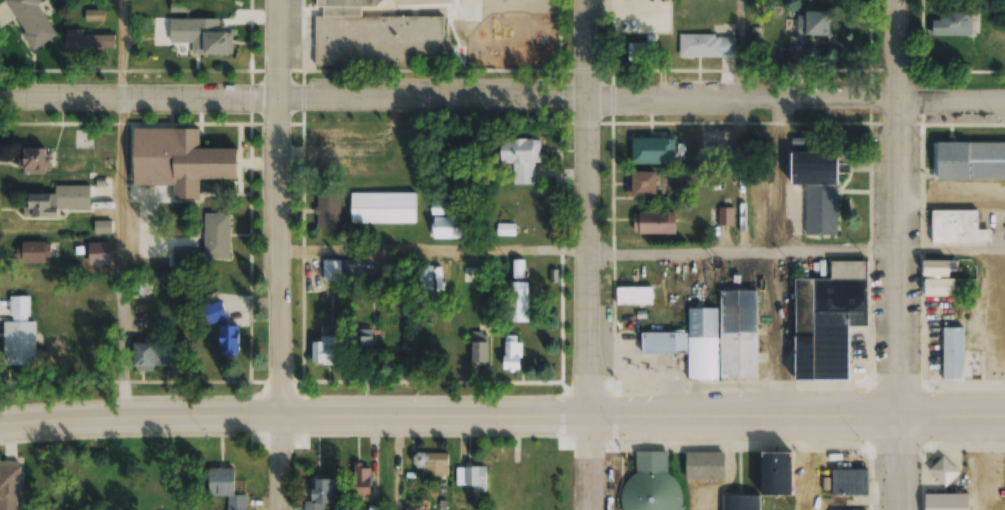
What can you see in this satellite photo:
building: (94, 16)
building: (33, 22)
building: (813, 23)
building: (953, 23)
building: (363, 33)
building: (88, 41)
building: (217, 44)
building: (707, 46)
building: (643, 49)
building: (794, 55)
road: (950, 99)
road: (447, 105)
building: (653, 151)
building: (520, 160)
building: (179, 161)
building: (969, 161)
building: (34, 162)
building: (641, 184)
building: (57, 202)
road: (896, 206)
building: (383, 208)
road: (598, 208)
building: (819, 208)
building: (442, 209)
road: (286, 210)
building: (328, 211)
building: (654, 223)
building: (447, 228)
building: (957, 228)
building: (216, 236)
building: (34, 253)
building: (185, 258)
building: (336, 269)
building: (517, 269)
building: (469, 275)
building: (424, 279)
building: (941, 280)
building: (141, 286)
building: (634, 296)
building: (518, 302)
building: (215, 312)
building: (829, 320)
building: (715, 339)
building: (227, 341)
building: (361, 347)
building: (20, 350)
building: (480, 350)
building: (324, 352)
building: (953, 353)
building: (512, 354)
building: (144, 355)
road: (952, 414)
road: (449, 418)
road: (899, 462)
building: (431, 463)
road: (601, 463)
road: (285, 466)
building: (704, 466)
building: (777, 471)
building: (944, 471)
building: (470, 475)
building: (362, 480)
building: (221, 481)
building: (545, 482)
building: (652, 482)
building: (849, 483)
building: (9, 485)
building: (321, 493)
building: (947, 501)
building: (741, 502)

